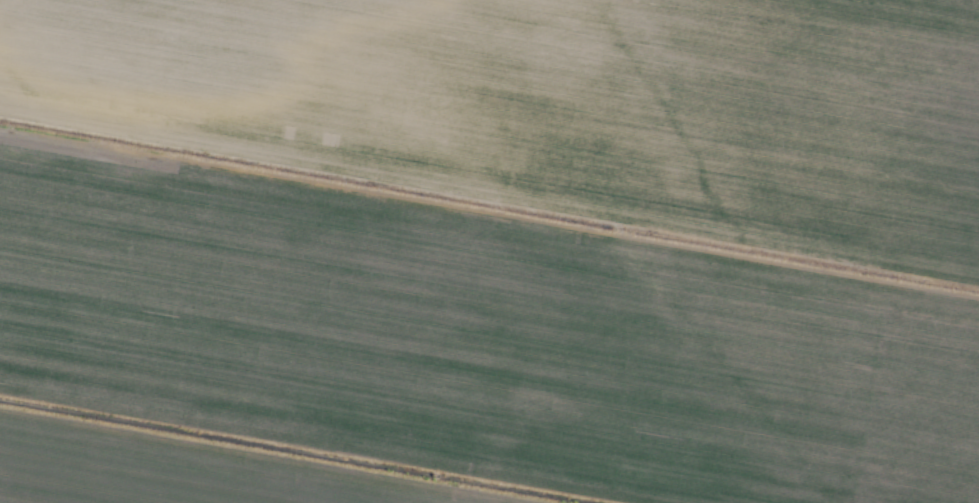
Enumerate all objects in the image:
crop: (489, 251)

